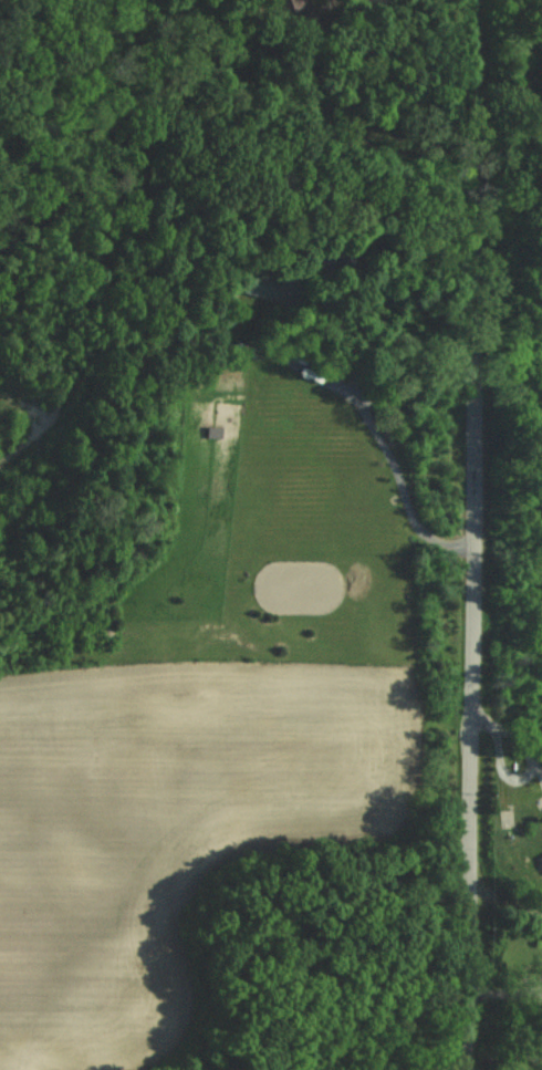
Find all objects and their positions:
building: (261, 287)
road: (355, 350)
road: (473, 534)
building: (539, 860)
road: (507, 893)
road: (505, 986)

